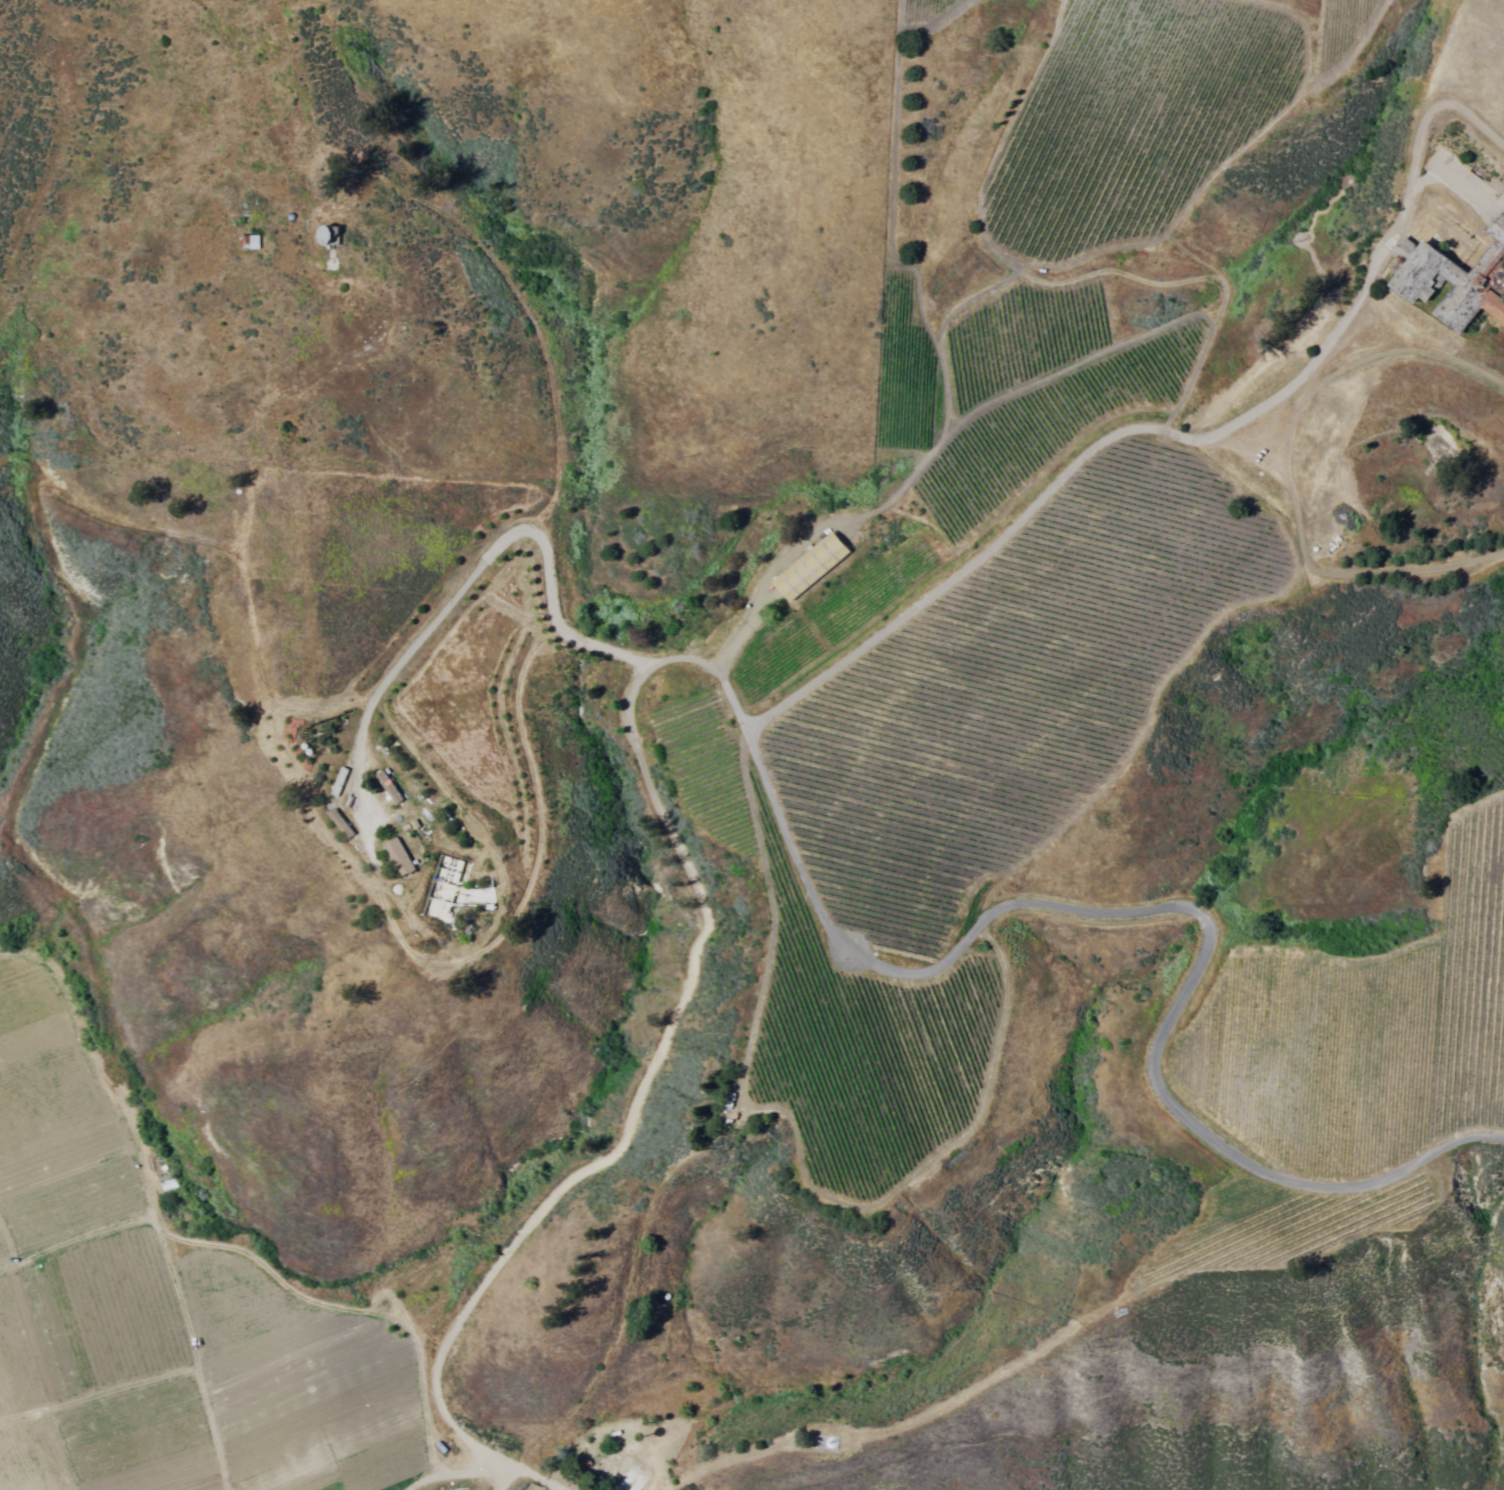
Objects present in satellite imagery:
crop: (944, 11)
crop: (1490, 88)
building: (245, 241)
building: (1451, 280)
building: (806, 567)
crop: (1006, 582)
building: (336, 780)
building: (386, 786)
building: (395, 855)
crop: (1365, 1037)
crop: (179, 1316)
road: (505, 1483)

